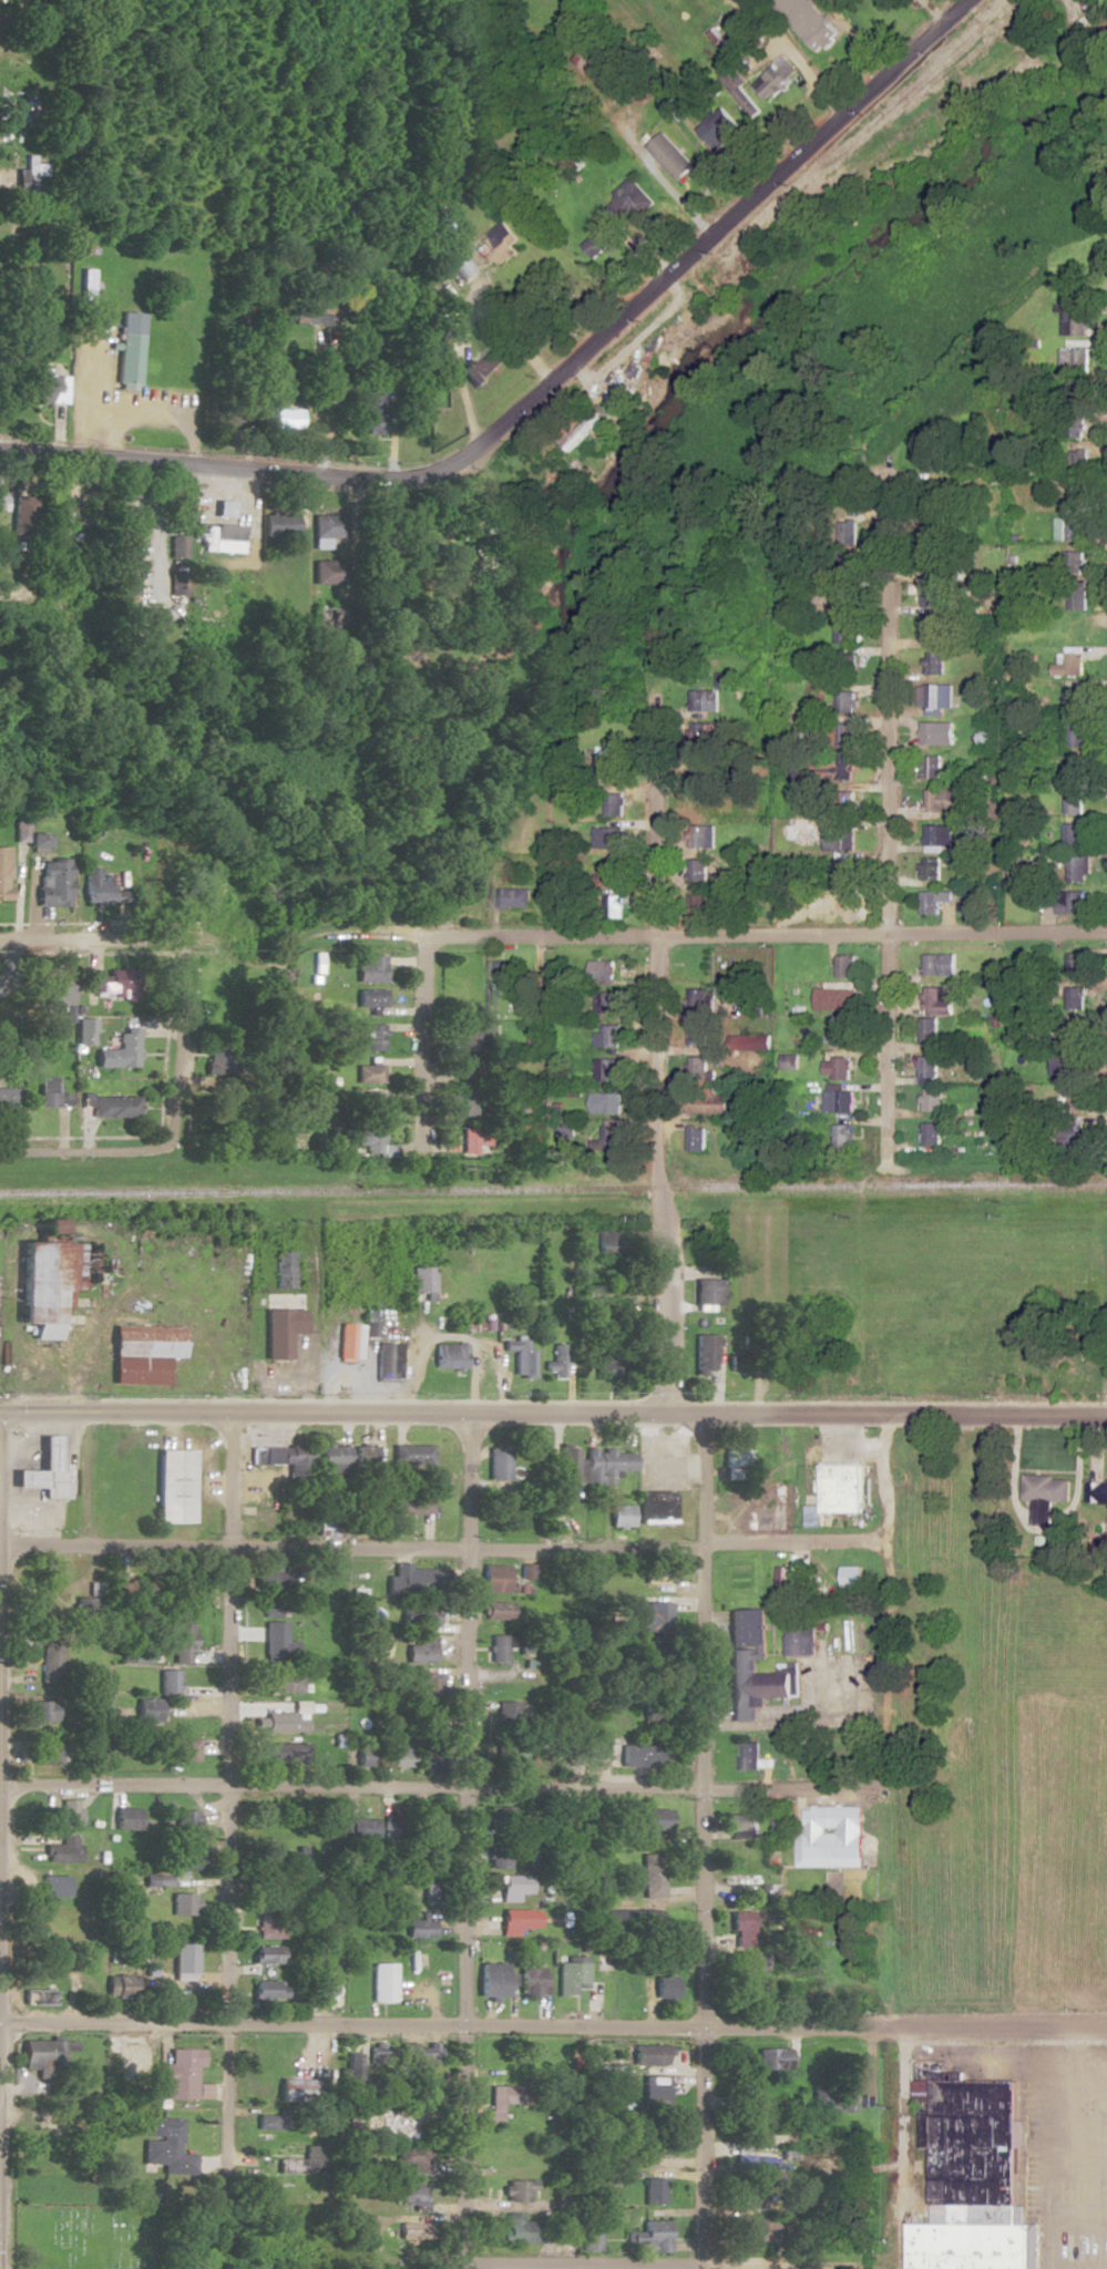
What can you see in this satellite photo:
building: (808, 22)
building: (1084, 25)
road: (855, 38)
building: (603, 73)
road: (810, 73)
building: (29, 105)
building: (670, 155)
building: (31, 175)
road: (675, 197)
building: (461, 265)
building: (30, 278)
building: (86, 295)
building: (309, 312)
building: (1075, 320)
building: (129, 361)
building: (481, 368)
road: (454, 378)
building: (41, 381)
road: (544, 389)
building: (373, 413)
road: (326, 414)
building: (287, 415)
building: (230, 417)
building: (1074, 424)
building: (587, 430)
building: (1078, 461)
road: (253, 500)
building: (127, 513)
building: (21, 515)
building: (279, 524)
building: (327, 528)
building: (1068, 530)
building: (217, 533)
building: (127, 550)
building: (1075, 563)
building: (326, 573)
building: (127, 585)
building: (934, 587)
building: (1077, 598)
building: (150, 615)
building: (933, 630)
building: (1076, 630)
building: (845, 632)
building: (933, 664)
building: (1068, 666)
building: (710, 697)
building: (934, 697)
building: (1073, 698)
building: (845, 704)
building: (936, 733)
building: (844, 735)
building: (1076, 735)
building: (847, 766)
building: (1076, 767)
building: (930, 768)
building: (609, 771)
building: (940, 801)
building: (703, 802)
road: (889, 802)
building: (1072, 803)
building: (615, 805)
building: (1072, 833)
building: (701, 836)
building: (608, 839)
building: (939, 839)
building: (838, 840)
building: (34, 841)
building: (841, 869)
building: (929, 870)
building: (1076, 870)
building: (697, 872)
building: (2, 874)
building: (612, 874)
building: (50, 883)
building: (94, 885)
building: (198, 891)
building: (511, 899)
building: (932, 902)
building: (1068, 903)
building: (838, 905)
building: (614, 907)
road: (771, 936)
road: (84, 940)
building: (937, 965)
building: (1075, 965)
building: (844, 967)
building: (366, 969)
building: (604, 973)
building: (503, 975)
building: (111, 985)
building: (52, 992)
building: (366, 998)
building: (698, 1000)
building: (831, 1000)
building: (936, 1002)
building: (608, 1003)
building: (926, 1029)
road: (416, 1033)
building: (1069, 1034)
building: (697, 1035)
building: (839, 1035)
building: (370, 1037)
building: (609, 1037)
building: (749, 1043)
road: (175, 1046)
building: (124, 1047)
building: (472, 1062)
building: (1063, 1065)
building: (836, 1068)
building: (607, 1070)
building: (926, 1070)
building: (700, 1071)
road: (659, 1072)
building: (365, 1074)
building: (48, 1094)
building: (8, 1098)
building: (930, 1100)
building: (838, 1101)
building: (605, 1102)
building: (705, 1102)
building: (369, 1105)
building: (106, 1106)
building: (930, 1133)
building: (1070, 1134)
building: (842, 1136)
building: (611, 1137)
building: (366, 1138)
building: (472, 1139)
building: (695, 1139)
road: (76, 1150)
railway: (553, 1188)
building: (614, 1240)
building: (283, 1271)
building: (421, 1282)
building: (44, 1287)
building: (707, 1292)
road: (93, 1322)
building: (280, 1323)
building: (144, 1341)
building: (347, 1342)
building: (705, 1353)
building: (449, 1356)
building: (520, 1357)
building: (1082, 1359)
building: (555, 1361)
building: (386, 1362)
building: (608, 1367)
building: (136, 1373)
road: (553, 1414)
building: (412, 1454)
building: (362, 1455)
building: (283, 1456)
building: (332, 1458)
building: (498, 1462)
building: (735, 1462)
building: (606, 1464)
building: (568, 1466)
building: (44, 1469)
gas station: (44, 1469)
building: (173, 1485)
building: (834, 1492)
building: (1097, 1492)
building: (1045, 1495)
building: (411, 1503)
building: (619, 1516)
road: (1039, 1536)
road: (441, 1551)
building: (666, 1574)
building: (269, 1578)
building: (409, 1578)
building: (493, 1578)
building: (495, 1610)
building: (654, 1618)
road: (880, 1628)
building: (273, 1636)
building: (180, 1637)
building: (800, 1639)
building: (499, 1646)
building: (414, 1653)
building: (51, 1663)
building: (752, 1666)
building: (283, 1681)
building: (166, 1682)
building: (429, 1685)
building: (147, 1710)
building: (40, 1711)
building: (510, 1711)
building: (293, 1726)
building: (178, 1748)
building: (430, 1749)
building: (286, 1750)
building: (43, 1752)
building: (366, 1752)
building: (512, 1754)
building: (638, 1755)
building: (748, 1756)
building: (399, 1757)
road: (226, 1786)
road: (407, 1788)
building: (63, 1813)
building: (500, 1815)
building: (125, 1818)
building: (184, 1820)
building: (655, 1824)
building: (742, 1825)
building: (361, 1827)
building: (430, 1828)
building: (830, 1837)
road: (461, 1841)
road: (691, 1841)
building: (69, 1847)
building: (496, 1856)
building: (184, 1861)
building: (290, 1861)
building: (652, 1877)
building: (155, 1879)
building: (53, 1885)
building: (513, 1887)
building: (183, 1903)
building: (60, 1918)
building: (516, 1920)
building: (269, 1921)
building: (419, 1926)
building: (741, 1929)
building: (266, 1953)
building: (184, 1967)
building: (571, 1974)
building: (492, 1979)
building: (532, 1981)
building: (382, 1982)
building: (120, 1984)
building: (324, 1985)
building: (664, 1986)
building: (267, 1989)
road: (553, 2024)
building: (35, 2052)
building: (649, 2054)
building: (418, 2057)
building: (772, 2057)
building: (381, 2061)
building: (352, 2064)
building: (180, 2075)
building: (654, 2090)
building: (296, 2092)
building: (504, 2095)
building: (840, 2097)
road: (1056, 2105)
road: (902, 2115)
building: (275, 2122)
building: (391, 2125)
building: (161, 2143)
building: (653, 2146)
building: (970, 2149)
building: (411, 2157)
building: (756, 2179)
building: (516, 2190)
building: (653, 2190)
building: (410, 2196)
road: (1065, 2203)
building: (519, 2229)
building: (759, 2230)
park: (83, 2232)
building: (656, 2235)
building: (971, 2246)
road: (573, 2263)
road: (590, 2266)

